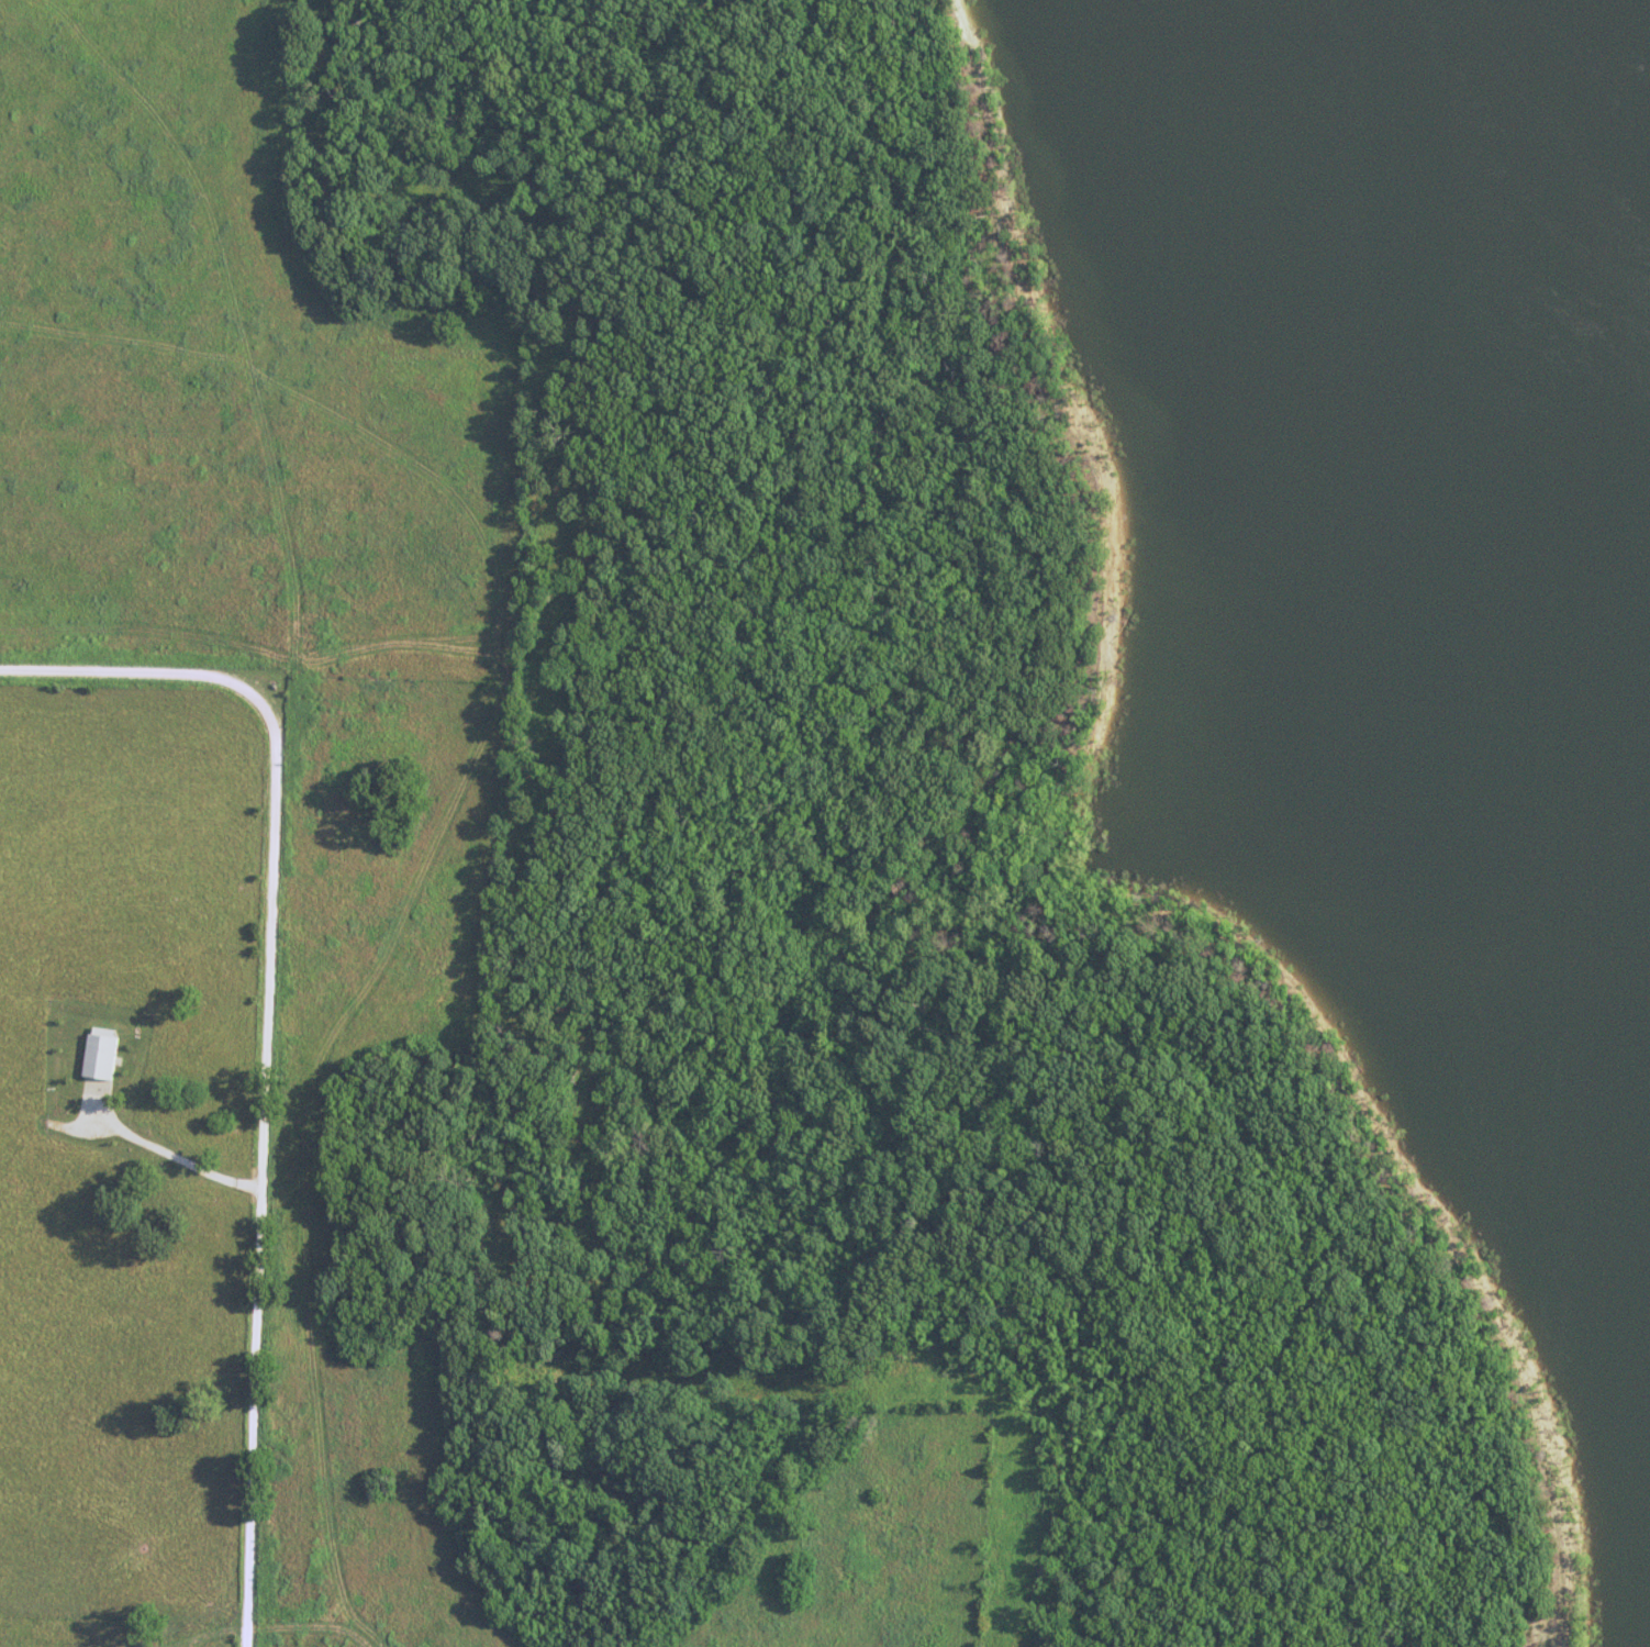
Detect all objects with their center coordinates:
road: (272, 1039)

